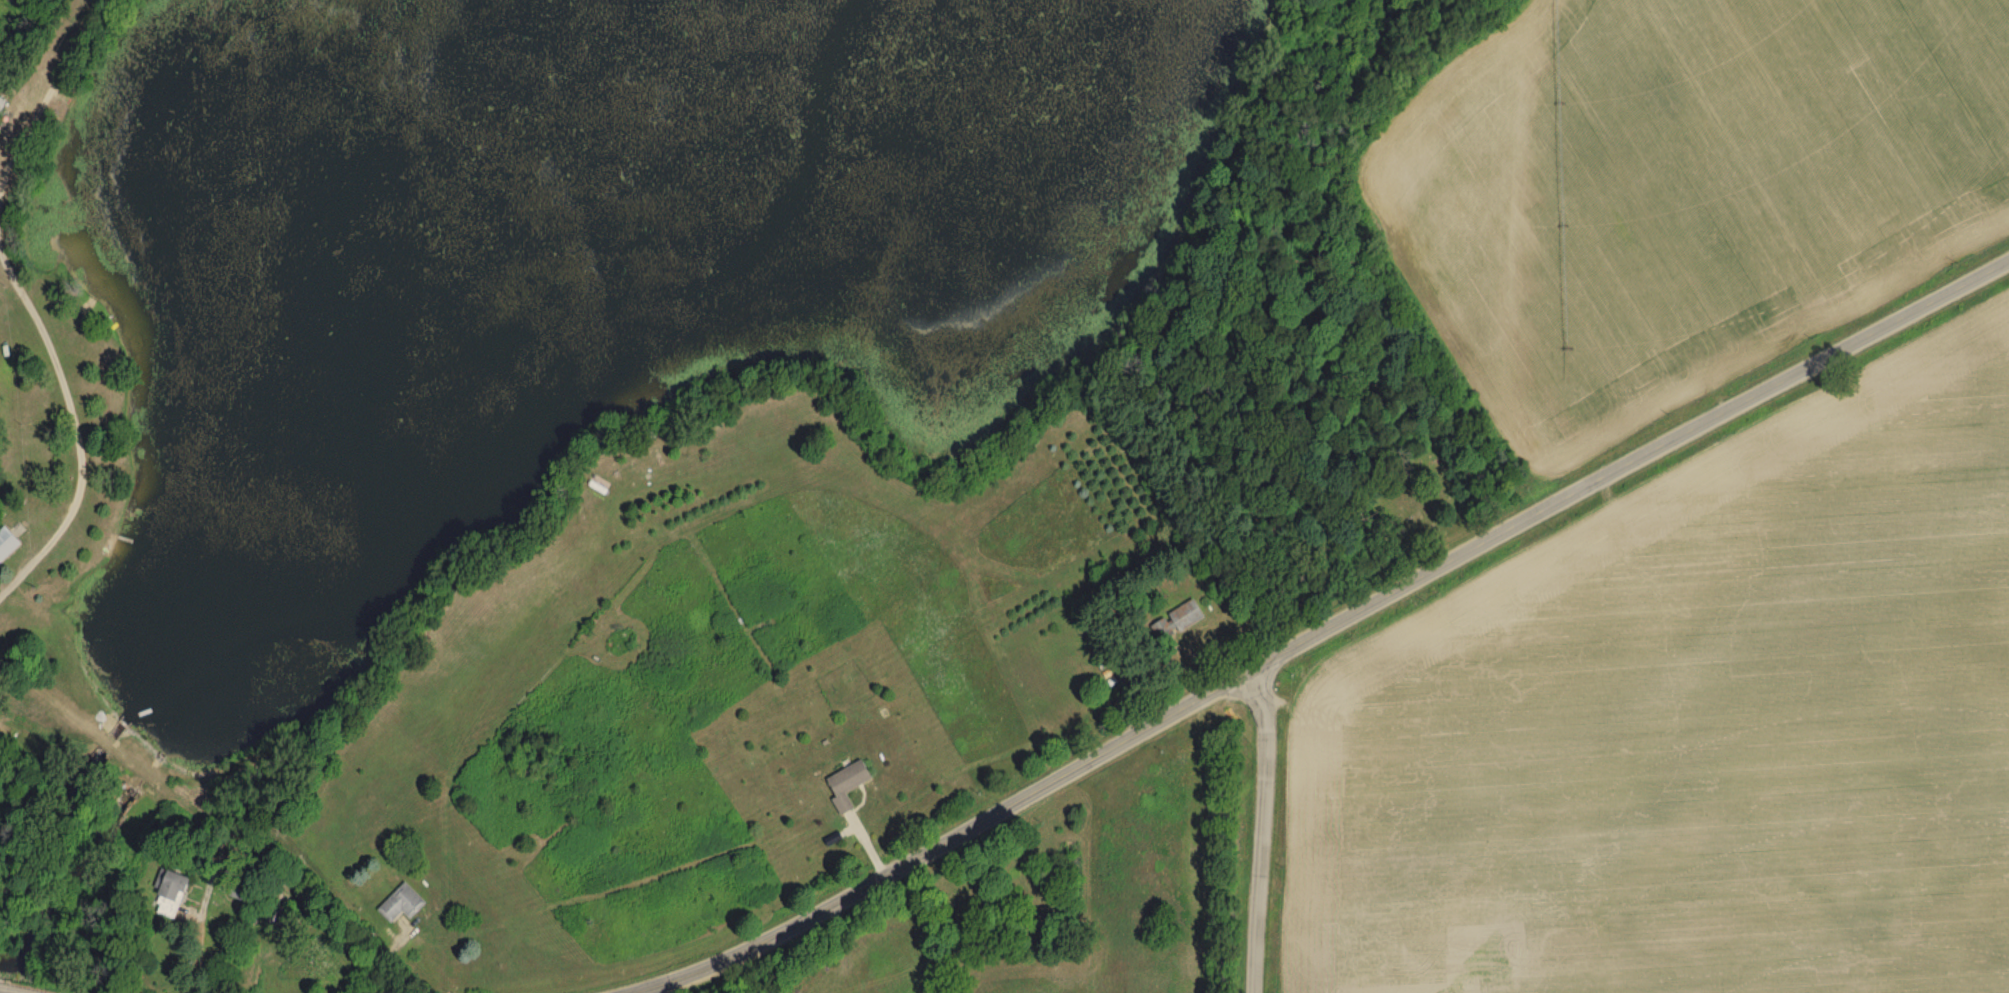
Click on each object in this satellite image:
road: (48, 94)
building: (0, 102)
road: (76, 430)
park: (1421, 499)
building: (11, 542)
building: (1173, 622)
road: (1341, 622)
building: (840, 787)
road: (1264, 829)
building: (182, 880)
building: (397, 904)
road: (306, 922)

